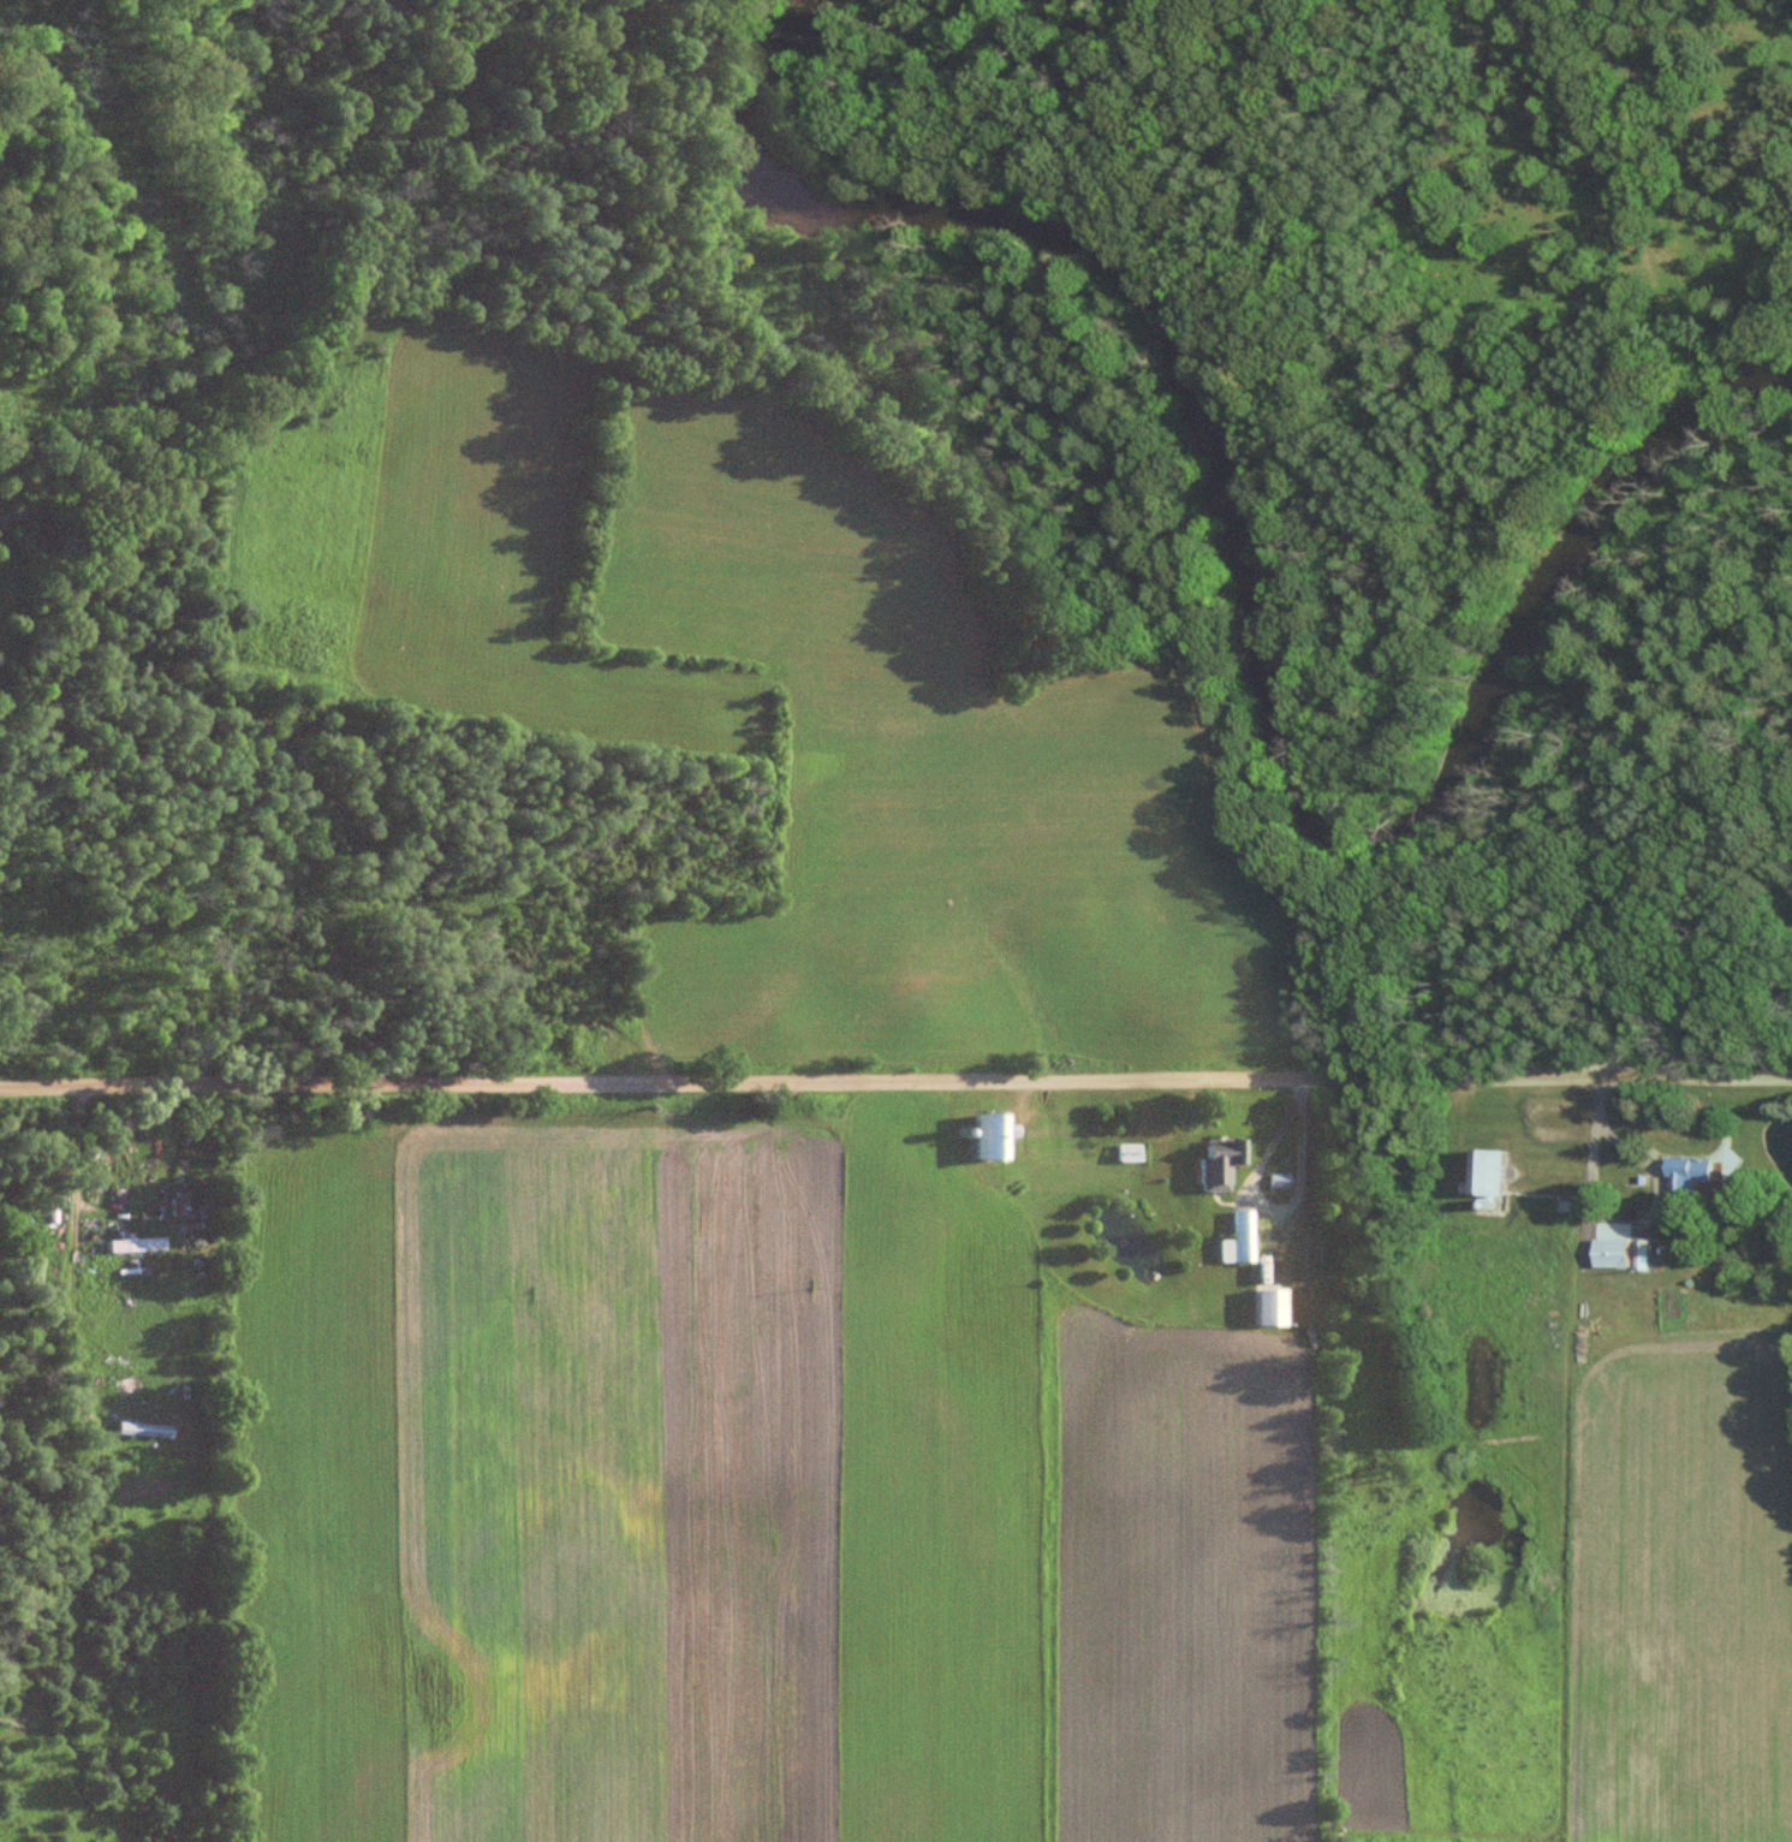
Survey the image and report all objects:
river: (1246, 595)
road: (895, 1086)
building: (992, 1137)
building: (1130, 1153)
building: (1227, 1154)
building: (1496, 1172)
building: (1693, 1176)
road: (1274, 1216)
road: (1650, 1216)
building: (1239, 1241)
building: (136, 1246)
building: (1624, 1253)
building: (1272, 1308)
building: (144, 1432)

